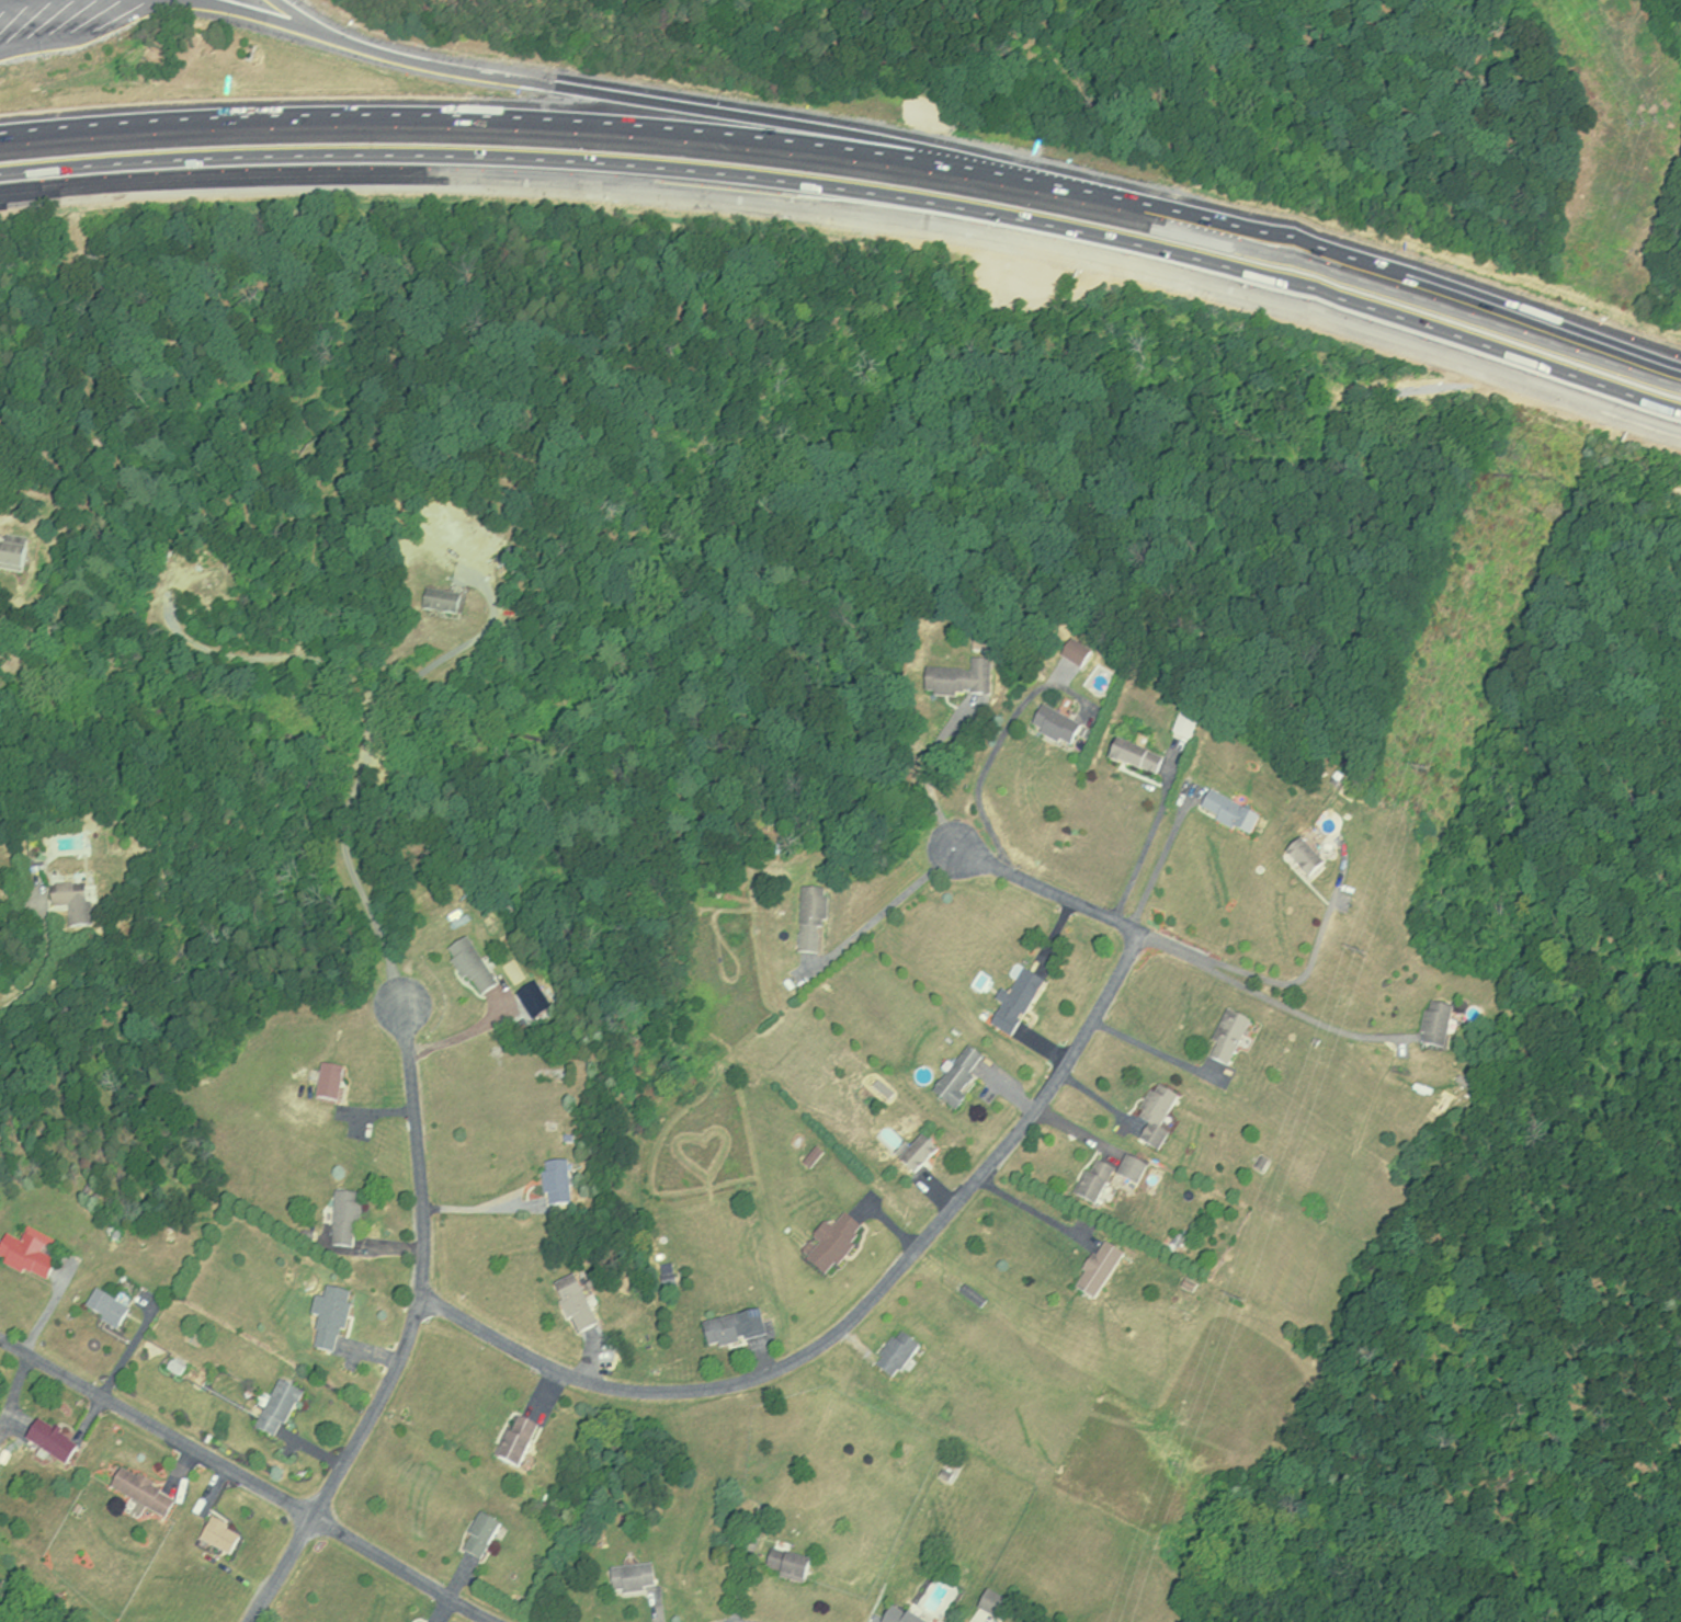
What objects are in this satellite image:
road: (3, 0)
parking lot: (15, 3)
road: (262, 16)
road: (299, 18)
road: (663, 104)
power tower: (1648, 126)
road: (854, 149)
road: (854, 210)
road: (928, 773)
power tower: (1421, 775)
road: (368, 783)
road: (987, 786)
road: (1166, 863)
road: (888, 901)
power tower: (1359, 956)
road: (1320, 964)
road: (42, 973)
road: (1268, 1006)
road: (1152, 1044)
road: (1033, 1213)
road: (932, 1234)
power tower: (1237, 1303)
road: (412, 1327)
road: (248, 1476)

